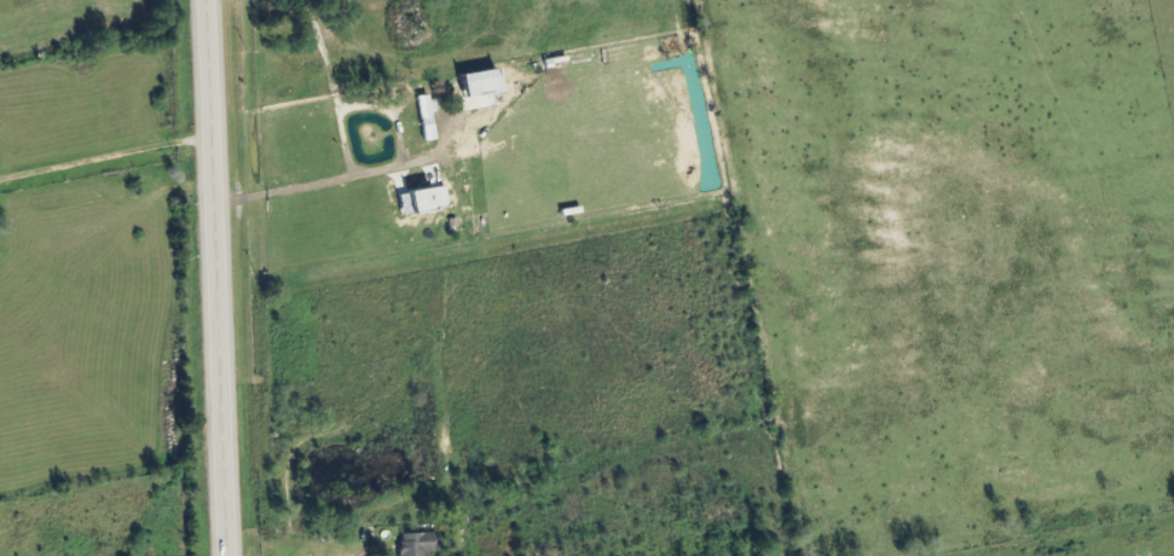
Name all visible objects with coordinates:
building: (484, 80)
building: (427, 117)
road: (103, 164)
building: (428, 201)
road: (212, 277)
building: (417, 544)

